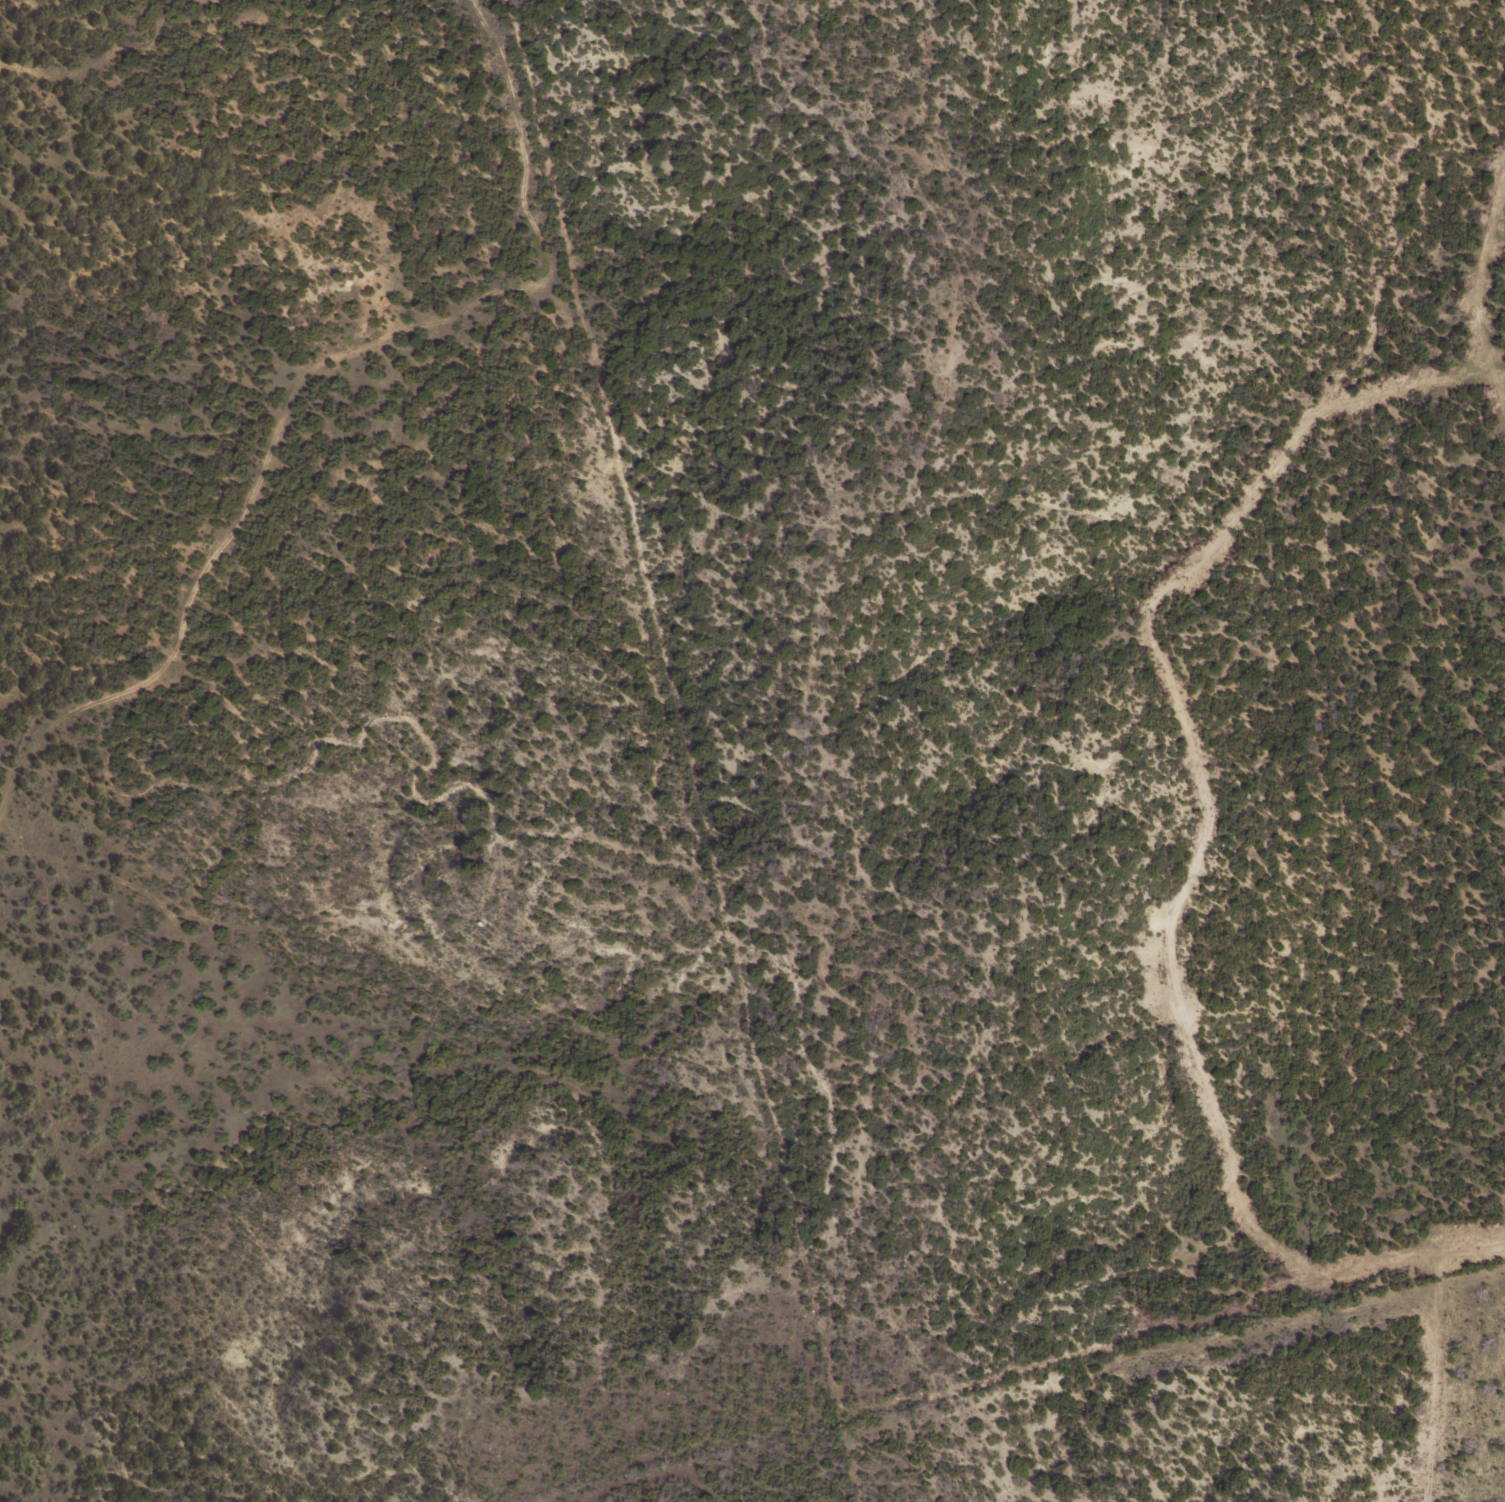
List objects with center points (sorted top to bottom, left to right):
road: (1386, 1327)

